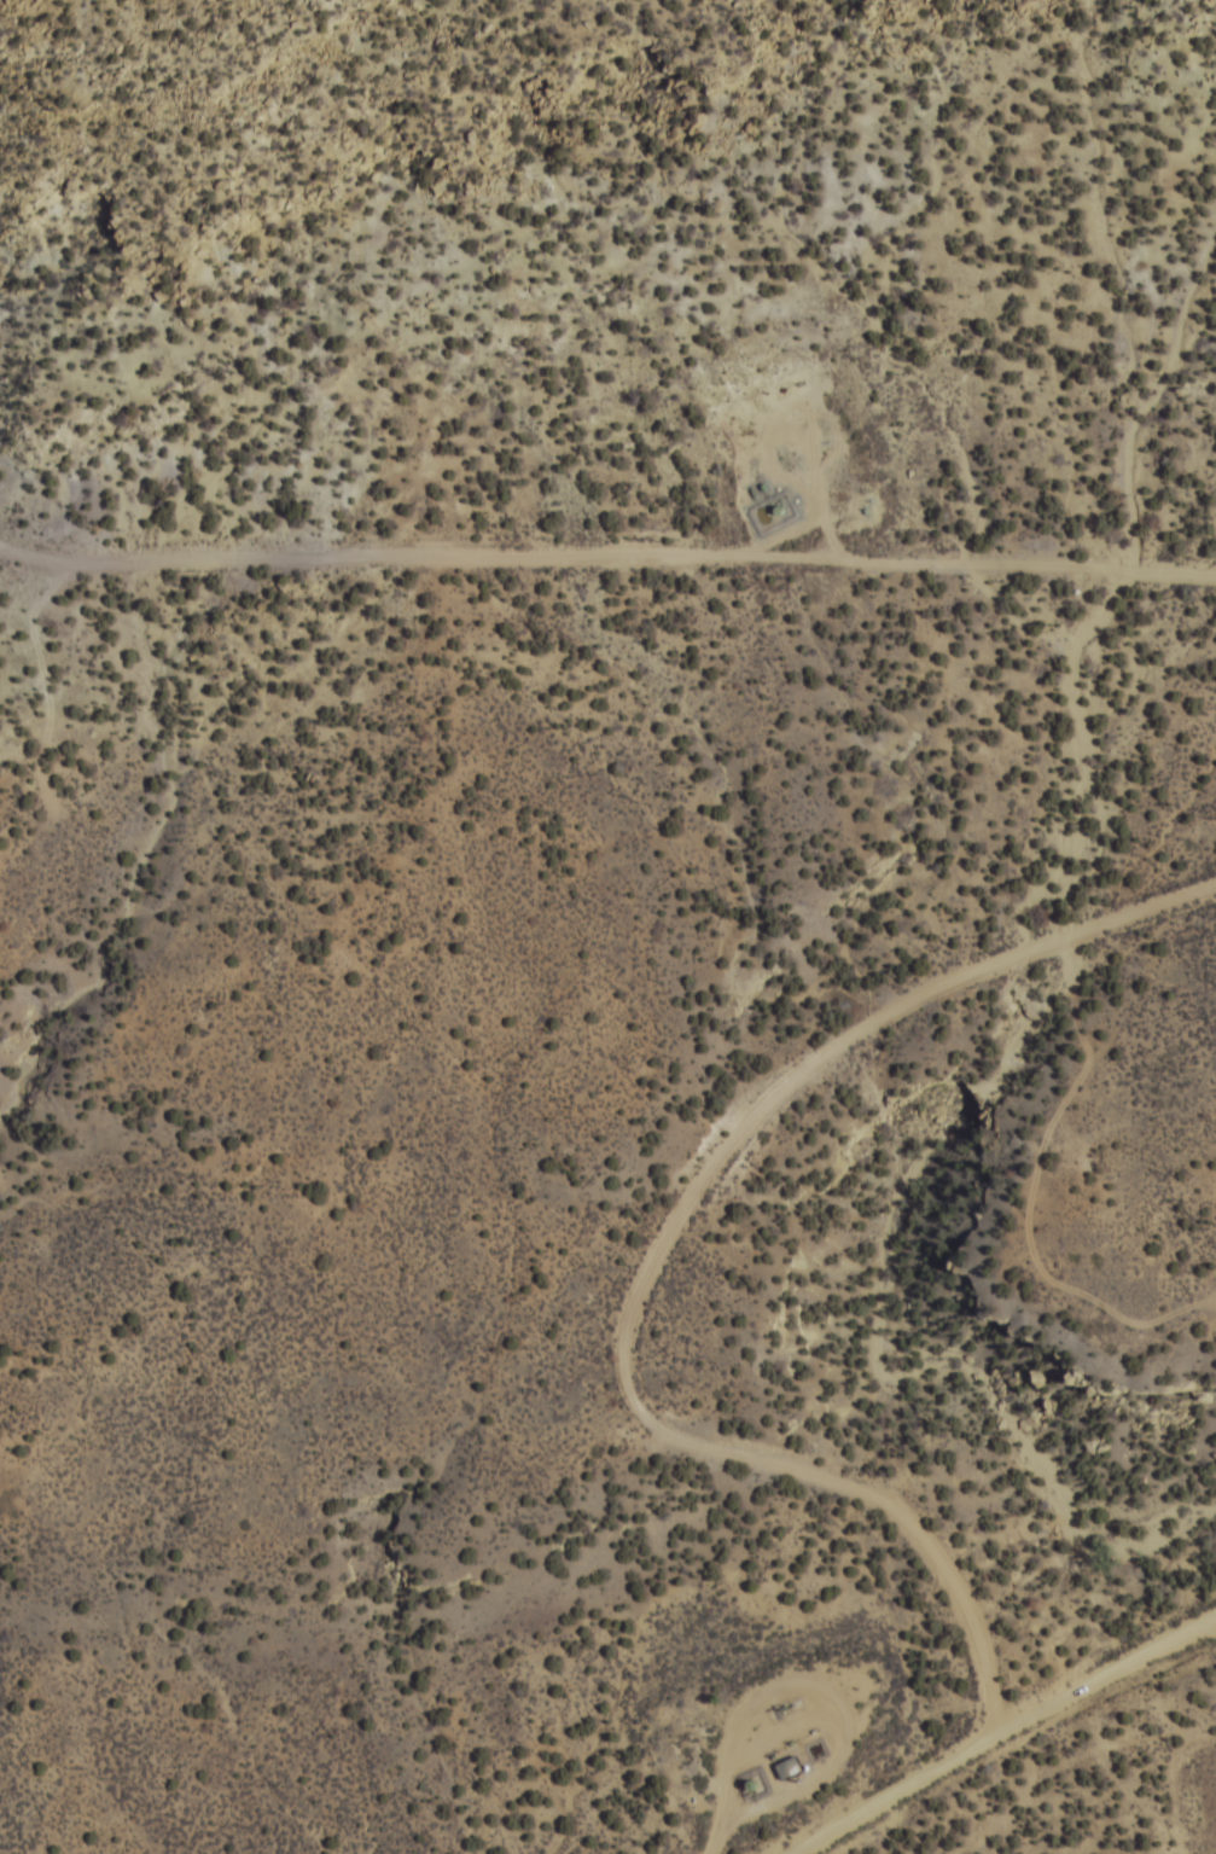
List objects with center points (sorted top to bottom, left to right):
road: (827, 504)
road: (793, 534)
road: (606, 553)
road: (659, 1260)
road: (831, 1692)
road: (1003, 1731)
building: (784, 1763)
road: (721, 1843)

